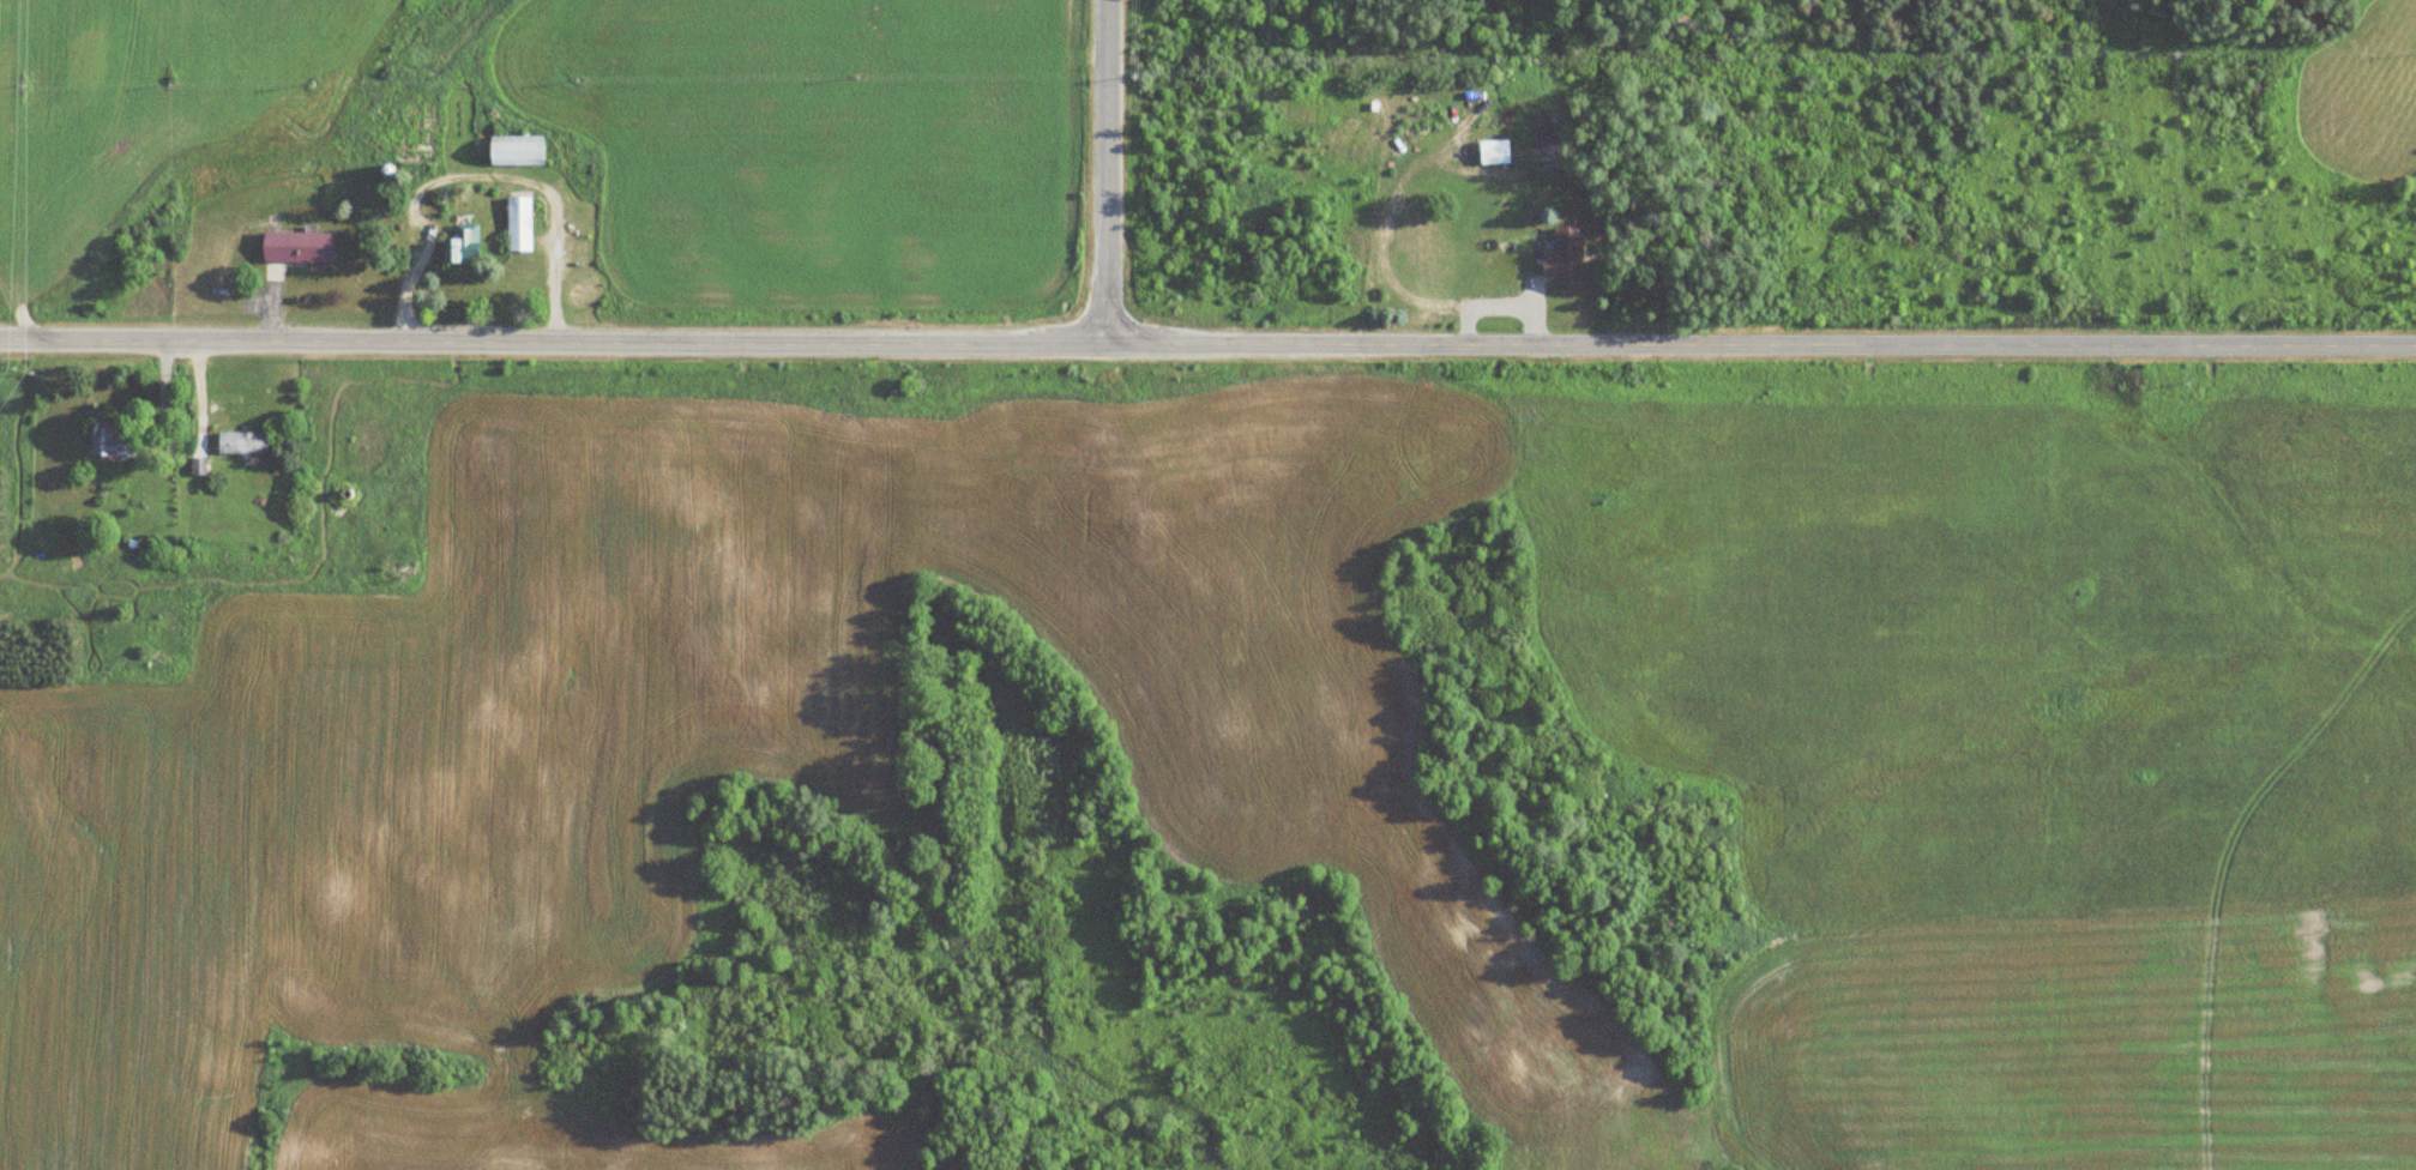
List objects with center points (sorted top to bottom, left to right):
building: (403, 140)
building: (508, 151)
building: (1489, 153)
road: (1102, 171)
building: (516, 224)
building: (458, 247)
building: (293, 248)
building: (1559, 259)
road: (1207, 343)
building: (239, 444)
building: (107, 446)
airport: (2097, 1056)

